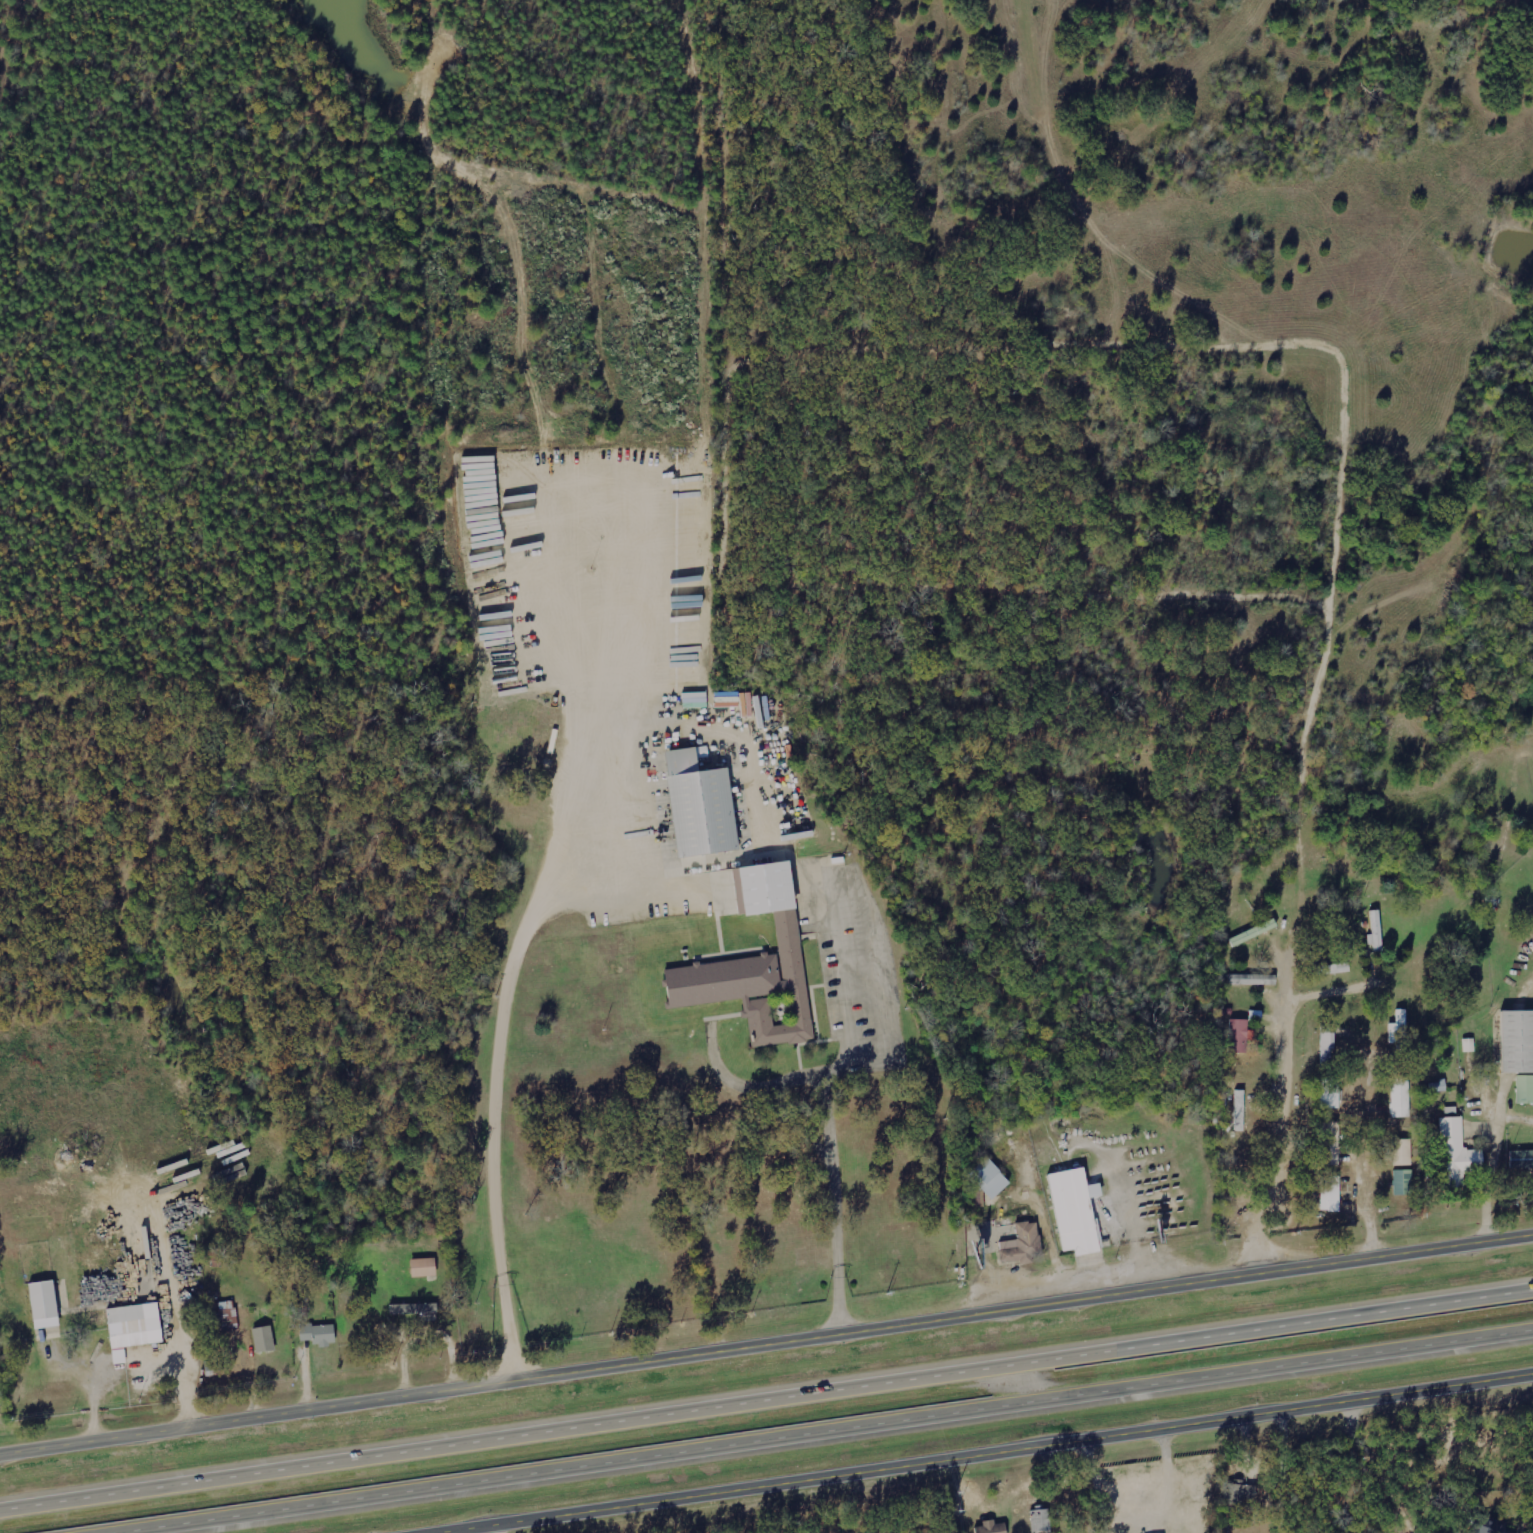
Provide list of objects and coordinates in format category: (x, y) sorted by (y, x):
building: (696, 700)
building: (702, 803)
building: (1377, 932)
building: (1240, 939)
building: (759, 964)
building: (1334, 968)
building: (1400, 1031)
building: (1241, 1035)
building: (1518, 1042)
building: (1525, 1089)
building: (1331, 1093)
building: (1401, 1098)
building: (1241, 1110)
building: (1331, 1143)
building: (1403, 1152)
building: (1459, 1154)
road: (1493, 1160)
building: (1531, 1173)
building: (991, 1179)
building: (1404, 1182)
building: (1332, 1193)
building: (1077, 1211)
building: (1022, 1245)
building: (425, 1266)
building: (46, 1303)
building: (415, 1308)
building: (227, 1313)
building: (135, 1327)
building: (320, 1333)
building: (265, 1338)
road: (766, 1338)
road: (766, 1391)
road: (808, 1428)
road: (970, 1453)
building: (1241, 1491)
building: (1042, 1519)
building: (993, 1527)

